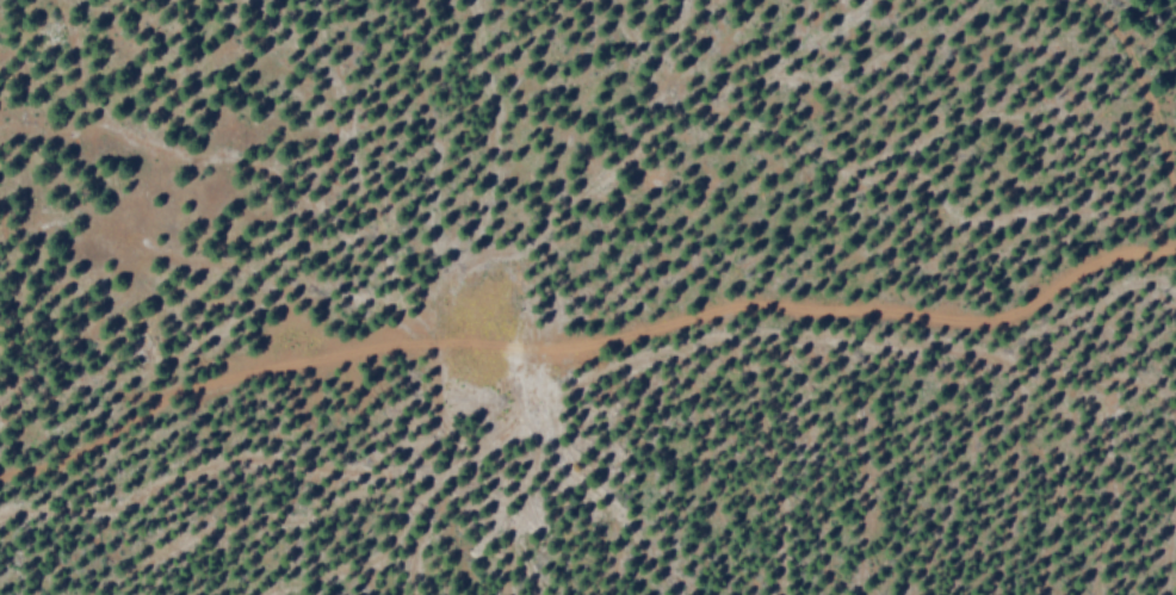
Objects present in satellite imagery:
road: (899, 306)

